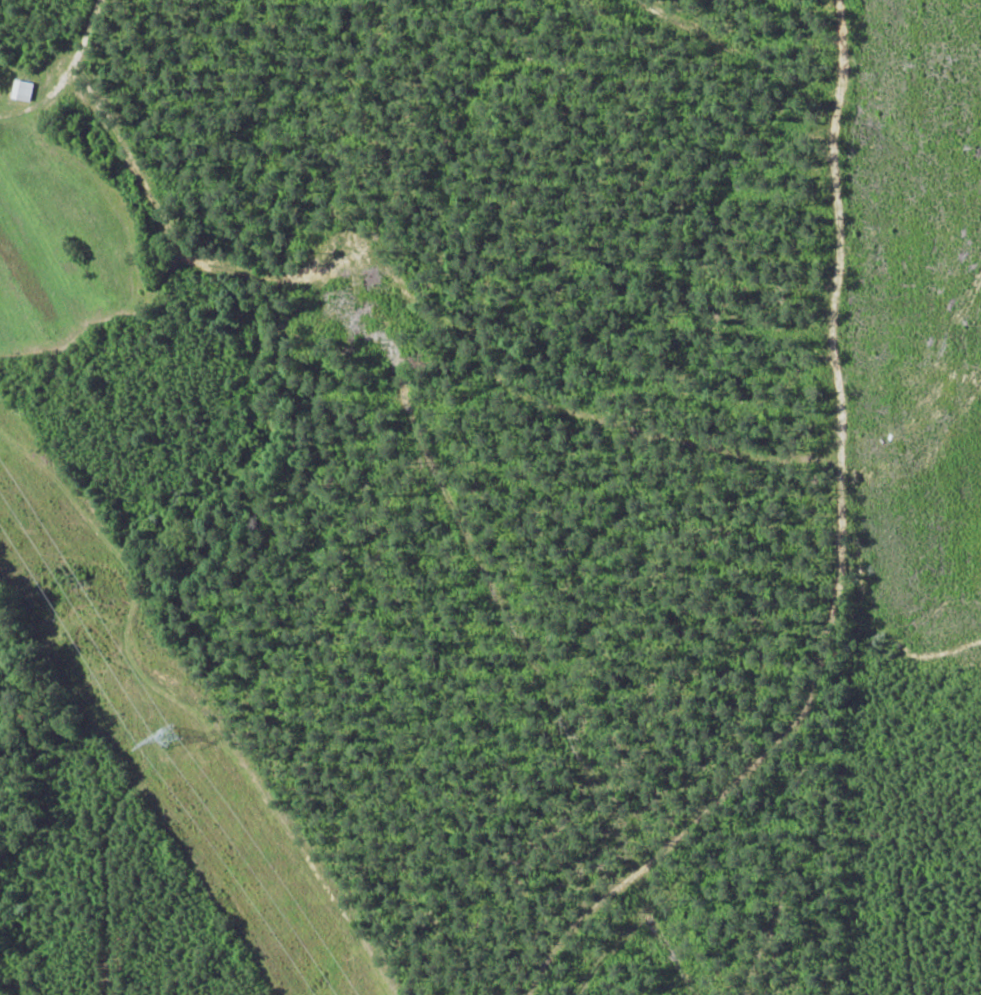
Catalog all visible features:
building: (21, 89)
power tower: (170, 741)

